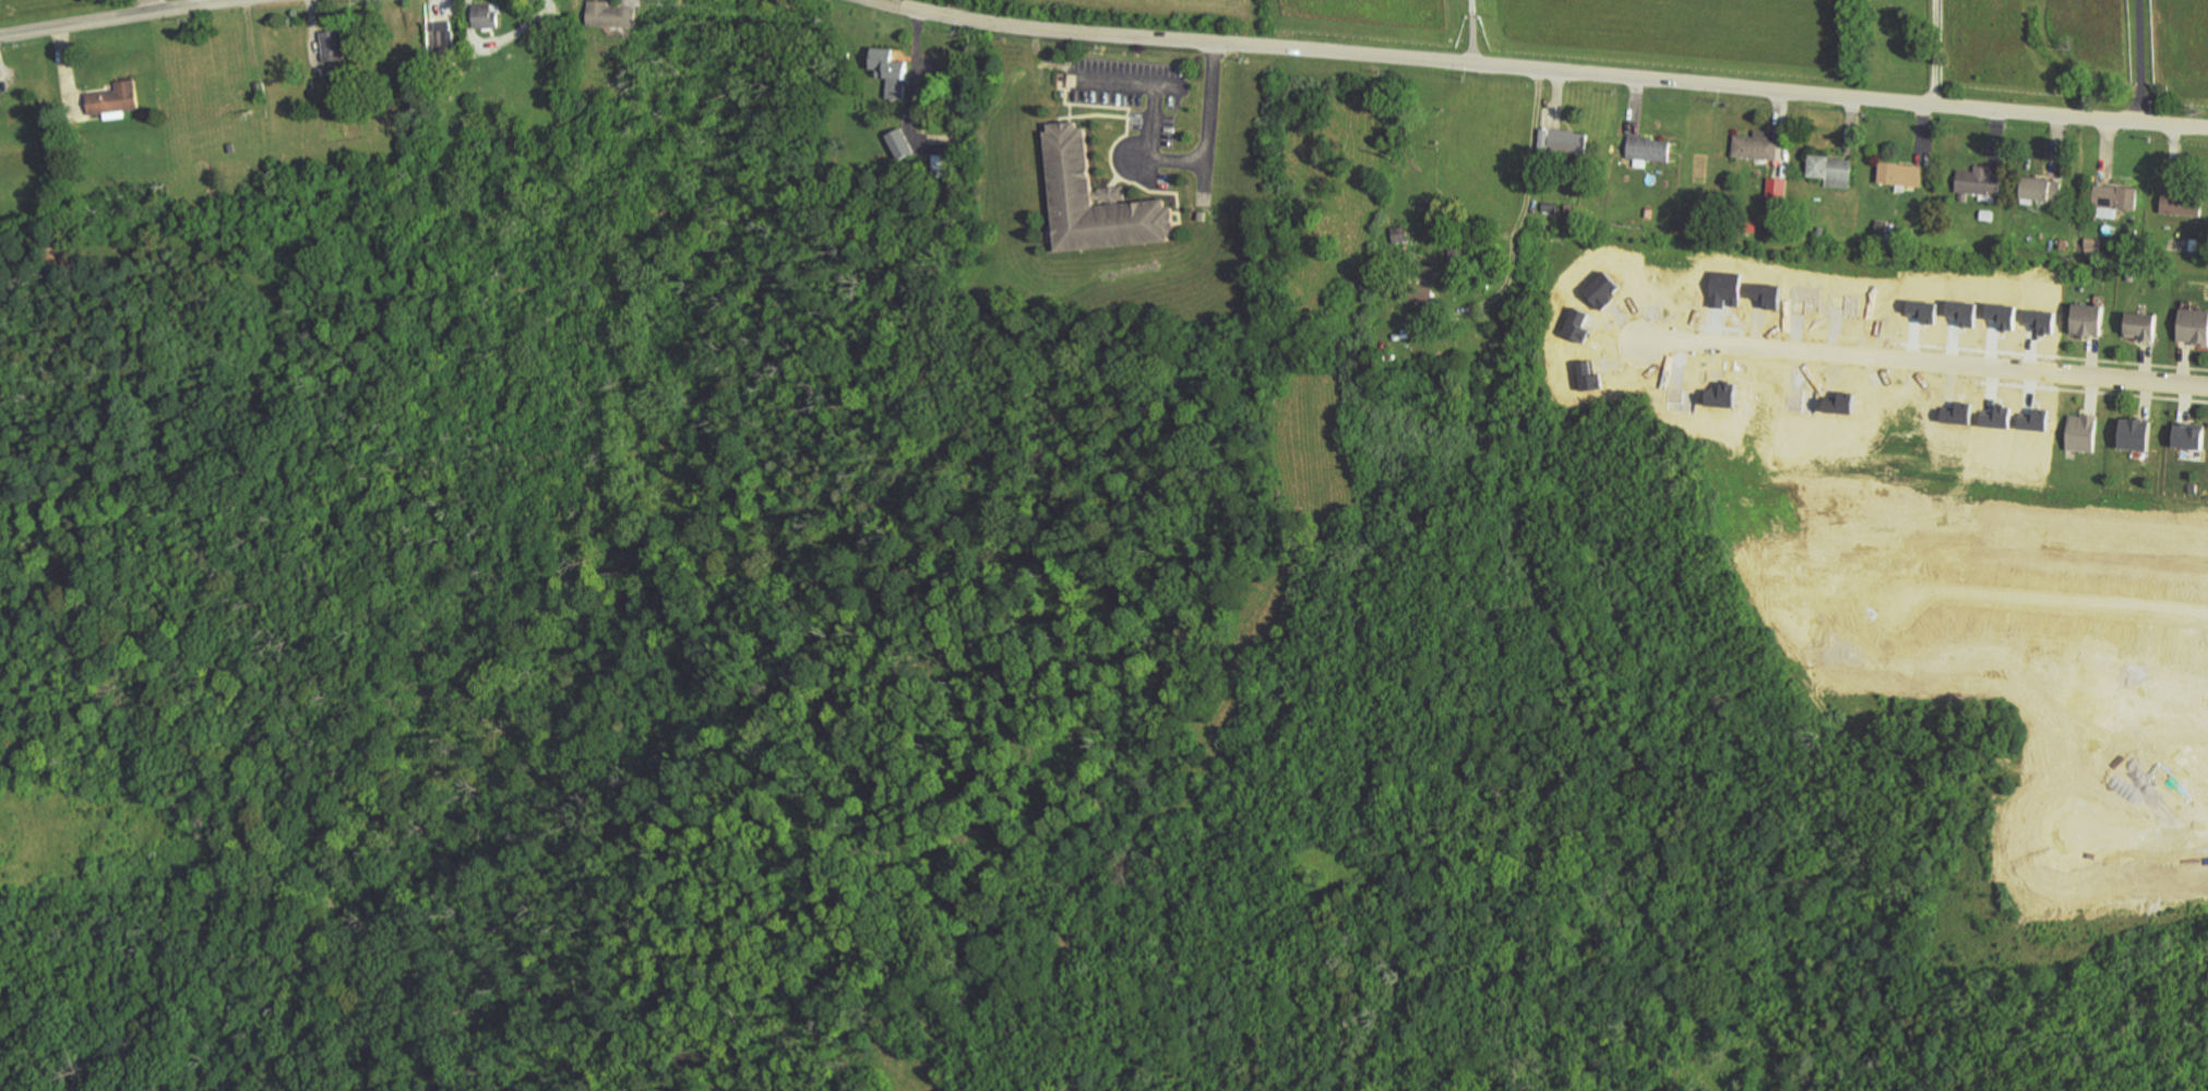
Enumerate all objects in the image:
road: (196, 3)
building: (612, 15)
road: (121, 17)
building: (486, 17)
road: (1471, 32)
building: (444, 41)
building: (335, 46)
road: (1940, 52)
road: (2139, 60)
road: (1539, 71)
building: (891, 72)
road: (914, 72)
building: (116, 99)
flagpole: (1113, 128)
building: (1568, 140)
building: (900, 144)
building: (1756, 145)
building: (1648, 149)
road: (1203, 160)
building: (1833, 169)
building: (1902, 173)
building: (1979, 183)
building: (1777, 188)
building: (2041, 189)
road: (1525, 191)
building: (2114, 200)
building: (2182, 203)
building: (1101, 204)
building: (1550, 206)
building: (1568, 207)
building: (1649, 213)
building: (1988, 215)
building: (1751, 227)
building: (1821, 230)
building: (2092, 244)
building: (2194, 244)
building: (2063, 245)
building: (2131, 276)
building: (1686, 291)
building: (1422, 293)
building: (2089, 319)
building: (2141, 325)
building: (2194, 327)
road: (1923, 361)
building: (1720, 394)
building: (1681, 401)
building: (2084, 432)
building: (2137, 432)
building: (2189, 435)
building: (2194, 488)
road: (2052, 599)
road: (2141, 836)

